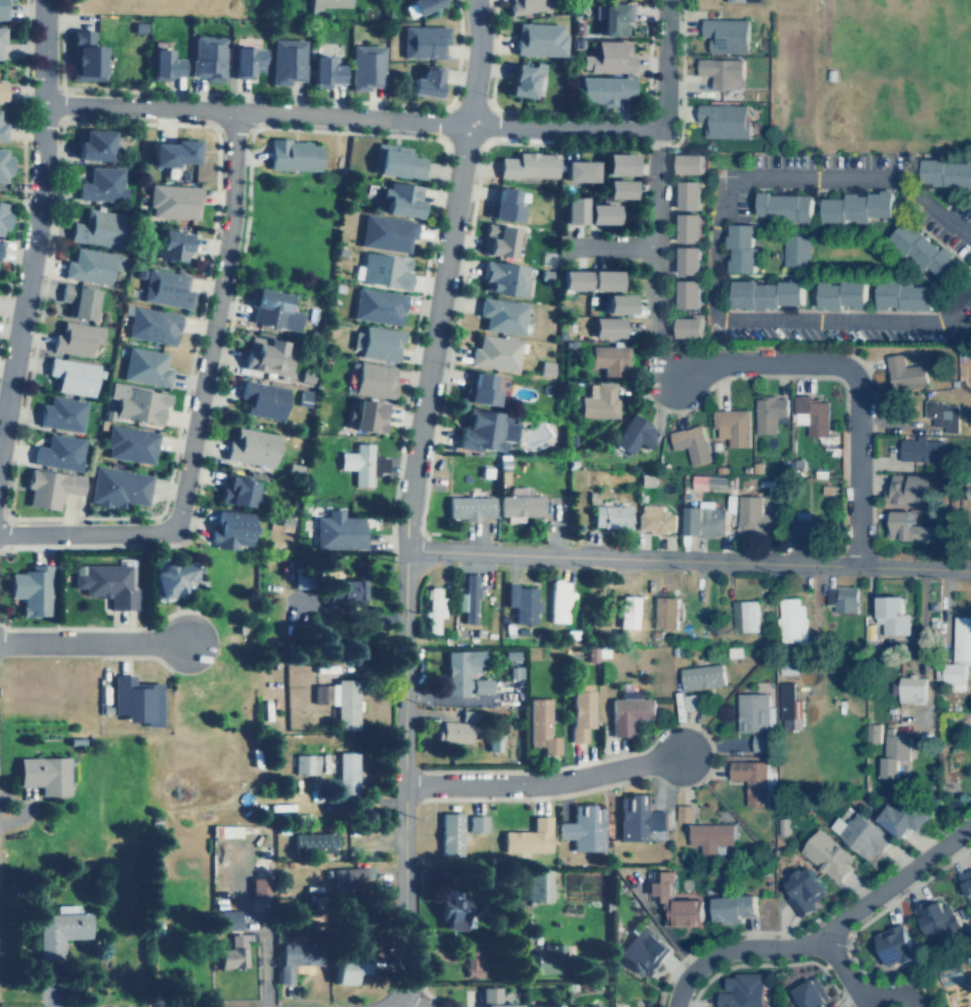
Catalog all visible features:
building: (744, 0)
building: (325, 4)
building: (426, 4)
building: (526, 6)
building: (3, 9)
building: (614, 18)
building: (1, 34)
building: (725, 34)
building: (539, 39)
building: (424, 41)
building: (85, 56)
building: (208, 57)
building: (608, 57)
building: (287, 60)
building: (246, 61)
building: (165, 65)
road: (662, 65)
building: (366, 66)
park: (894, 68)
building: (326, 71)
building: (721, 71)
building: (526, 80)
building: (425, 81)
building: (604, 89)
building: (2, 90)
road: (267, 95)
road: (623, 114)
road: (351, 117)
building: (723, 120)
building: (2, 131)
road: (432, 135)
building: (94, 145)
building: (176, 152)
building: (293, 155)
building: (3, 163)
building: (619, 164)
building: (689, 164)
building: (528, 165)
road: (25, 170)
building: (579, 171)
building: (946, 173)
building: (102, 184)
building: (618, 189)
building: (520, 195)
building: (689, 196)
building: (174, 200)
building: (403, 200)
road: (817, 203)
building: (504, 204)
building: (858, 207)
building: (489, 208)
building: (784, 208)
building: (573, 210)
building: (600, 213)
building: (3, 217)
road: (899, 218)
road: (37, 224)
building: (99, 228)
building: (688, 228)
road: (828, 230)
road: (648, 231)
park: (292, 232)
building: (387, 233)
building: (500, 240)
building: (174, 245)
road: (612, 245)
road: (714, 247)
building: (742, 247)
building: (924, 250)
building: (796, 251)
building: (688, 260)
road: (780, 262)
building: (90, 266)
road: (901, 267)
building: (382, 270)
road: (463, 270)
road: (784, 274)
road: (48, 275)
road: (427, 275)
road: (445, 275)
road: (887, 276)
building: (505, 278)
building: (572, 280)
building: (603, 280)
building: (166, 288)
building: (688, 294)
building: (765, 294)
building: (842, 294)
building: (903, 294)
building: (79, 301)
building: (617, 304)
building: (378, 306)
building: (273, 310)
building: (502, 315)
building: (970, 318)
building: (152, 325)
building: (608, 326)
building: (689, 328)
building: (75, 338)
building: (377, 342)
building: (495, 353)
building: (266, 356)
building: (610, 359)
building: (146, 366)
building: (546, 368)
building: (904, 374)
building: (73, 376)
road: (853, 377)
building: (374, 380)
building: (482, 389)
building: (262, 399)
road: (184, 400)
building: (600, 401)
building: (138, 403)
road: (198, 407)
building: (62, 413)
building: (769, 413)
building: (942, 414)
building: (811, 415)
building: (369, 416)
building: (732, 426)
road: (211, 428)
building: (485, 431)
building: (636, 434)
building: (691, 443)
building: (131, 444)
building: (251, 447)
building: (921, 450)
building: (59, 451)
building: (358, 463)
building: (380, 464)
building: (709, 482)
building: (50, 487)
building: (118, 487)
building: (969, 489)
building: (236, 490)
building: (908, 490)
building: (519, 504)
building: (471, 508)
building: (611, 516)
building: (752, 516)
building: (655, 519)
building: (802, 523)
building: (908, 528)
building: (231, 530)
building: (338, 531)
road: (460, 551)
building: (172, 579)
building: (106, 584)
building: (31, 590)
building: (344, 591)
building: (468, 598)
building: (842, 598)
building: (559, 601)
building: (522, 603)
building: (435, 608)
building: (628, 612)
building: (665, 613)
building: (744, 616)
building: (891, 616)
building: (791, 619)
road: (107, 628)
road: (91, 641)
building: (958, 654)
road: (139, 656)
building: (461, 670)
building: (702, 677)
building: (481, 685)
building: (911, 689)
building: (136, 699)
building: (340, 701)
building: (786, 705)
building: (581, 711)
building: (751, 712)
building: (629, 713)
building: (541, 726)
building: (453, 731)
building: (873, 732)
building: (893, 752)
building: (304, 763)
building: (347, 772)
building: (44, 773)
building: (751, 779)
road: (542, 783)
building: (684, 812)
building: (638, 816)
building: (902, 817)
building: (477, 822)
building: (584, 828)
building: (451, 833)
building: (860, 834)
building: (710, 835)
building: (529, 836)
building: (314, 841)
building: (827, 854)
building: (351, 877)
building: (966, 883)
building: (539, 884)
building: (259, 887)
building: (804, 889)
building: (676, 900)
building: (732, 907)
building: (452, 910)
building: (228, 919)
building: (938, 919)
building: (60, 930)
road: (824, 940)
building: (893, 944)
building: (643, 950)
building: (234, 952)
building: (298, 954)
building: (548, 958)
building: (350, 963)
building: (951, 975)
road: (849, 978)
building: (743, 990)
building: (810, 993)
building: (493, 998)
road: (390, 1005)
road: (394, 1005)
road: (400, 1005)
building: (544, 1005)
building: (586, 1006)

